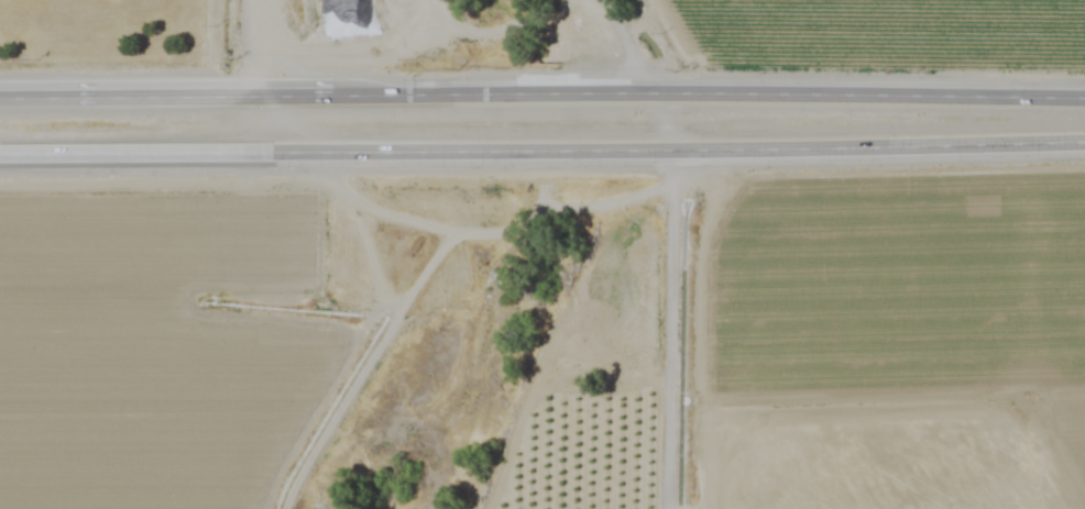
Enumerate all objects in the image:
road: (253, 47)
road: (542, 91)
road: (877, 145)
road: (335, 152)
road: (669, 248)
crop: (888, 253)
crop: (151, 306)
road: (368, 327)

